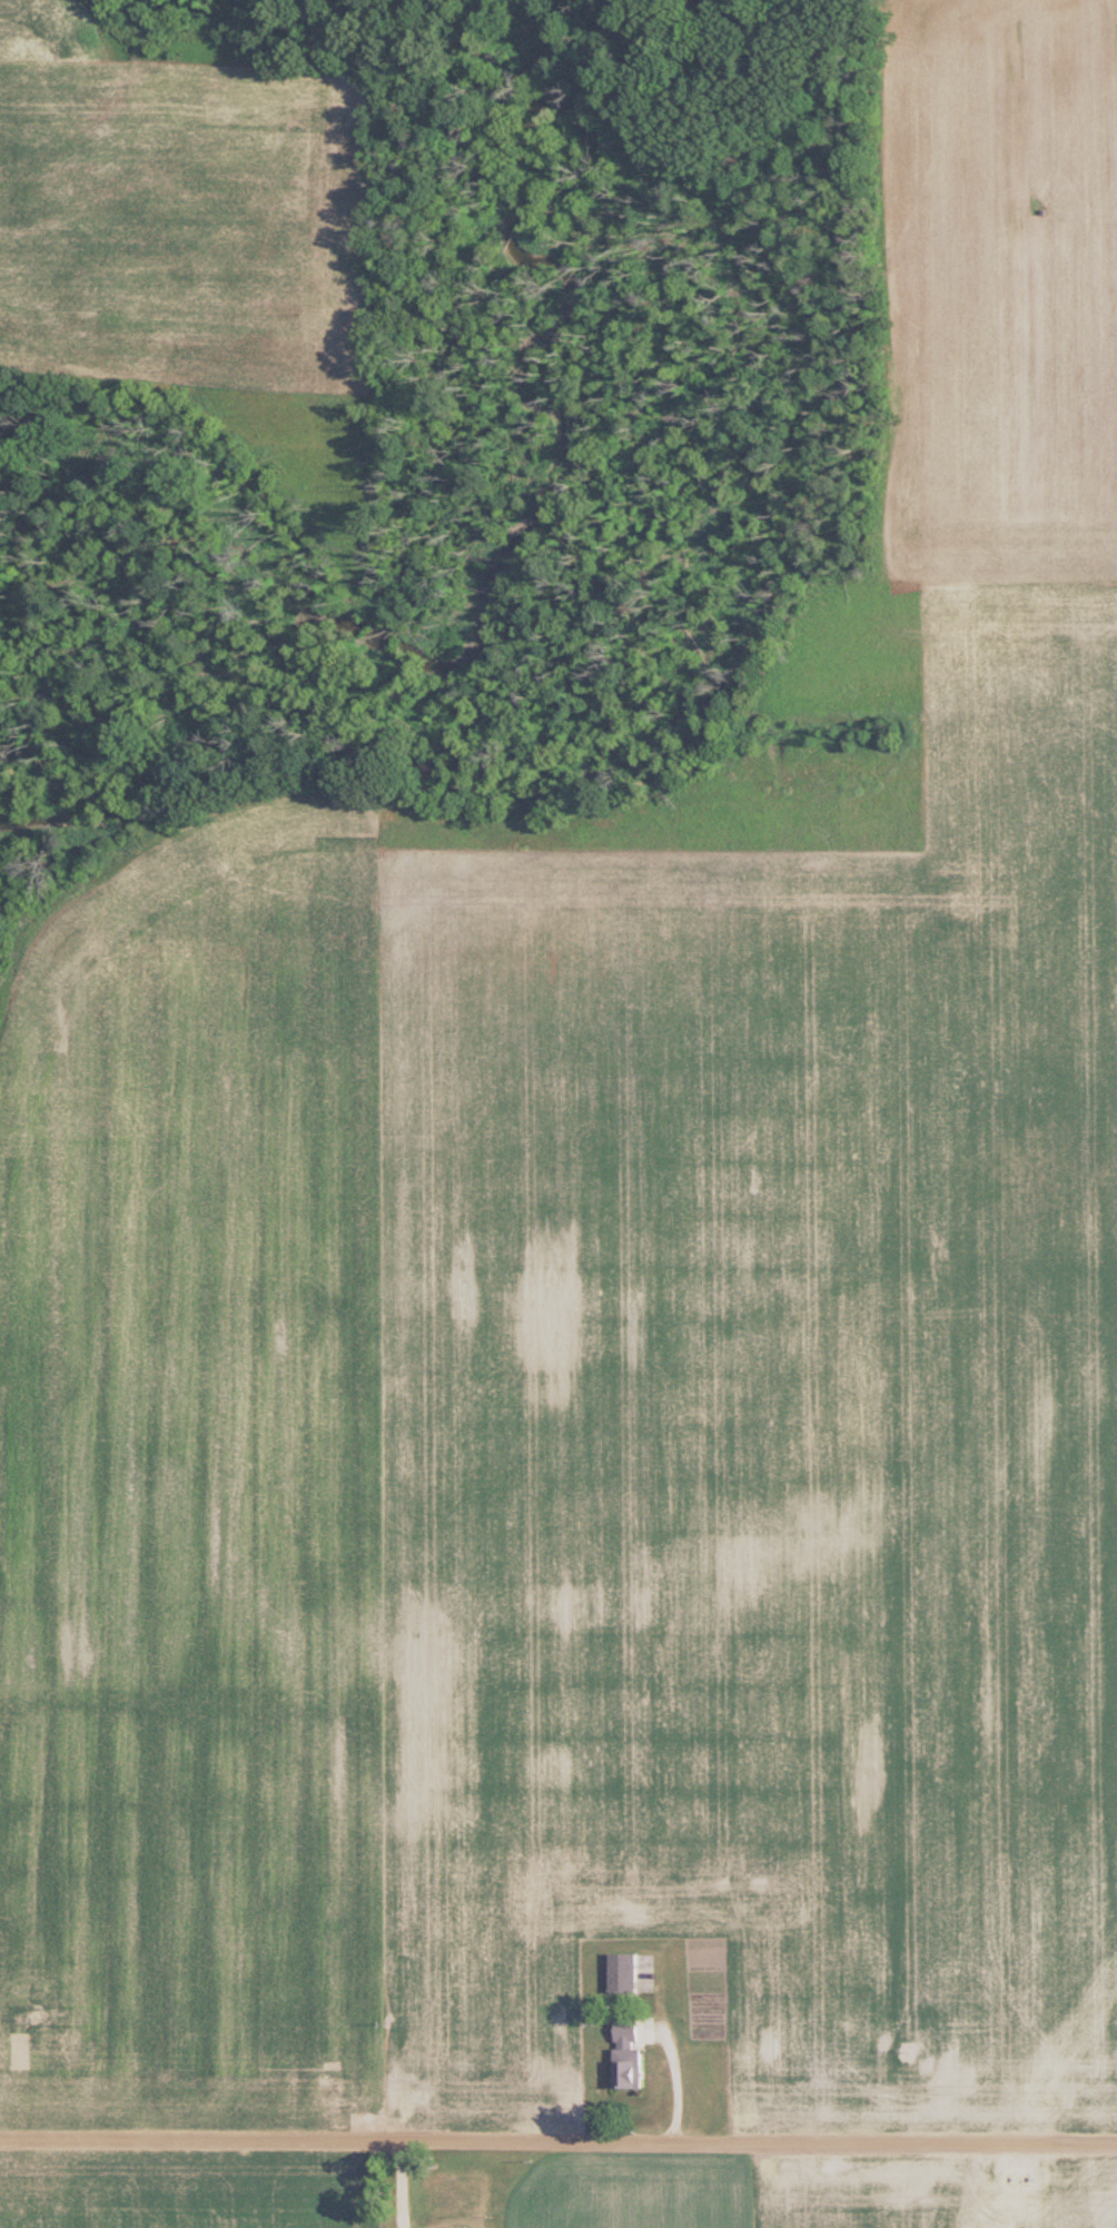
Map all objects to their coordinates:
river: (737, 21)
river: (507, 558)
building: (621, 1974)
building: (625, 2054)
road: (674, 2087)
road: (558, 2145)
road: (404, 2186)

